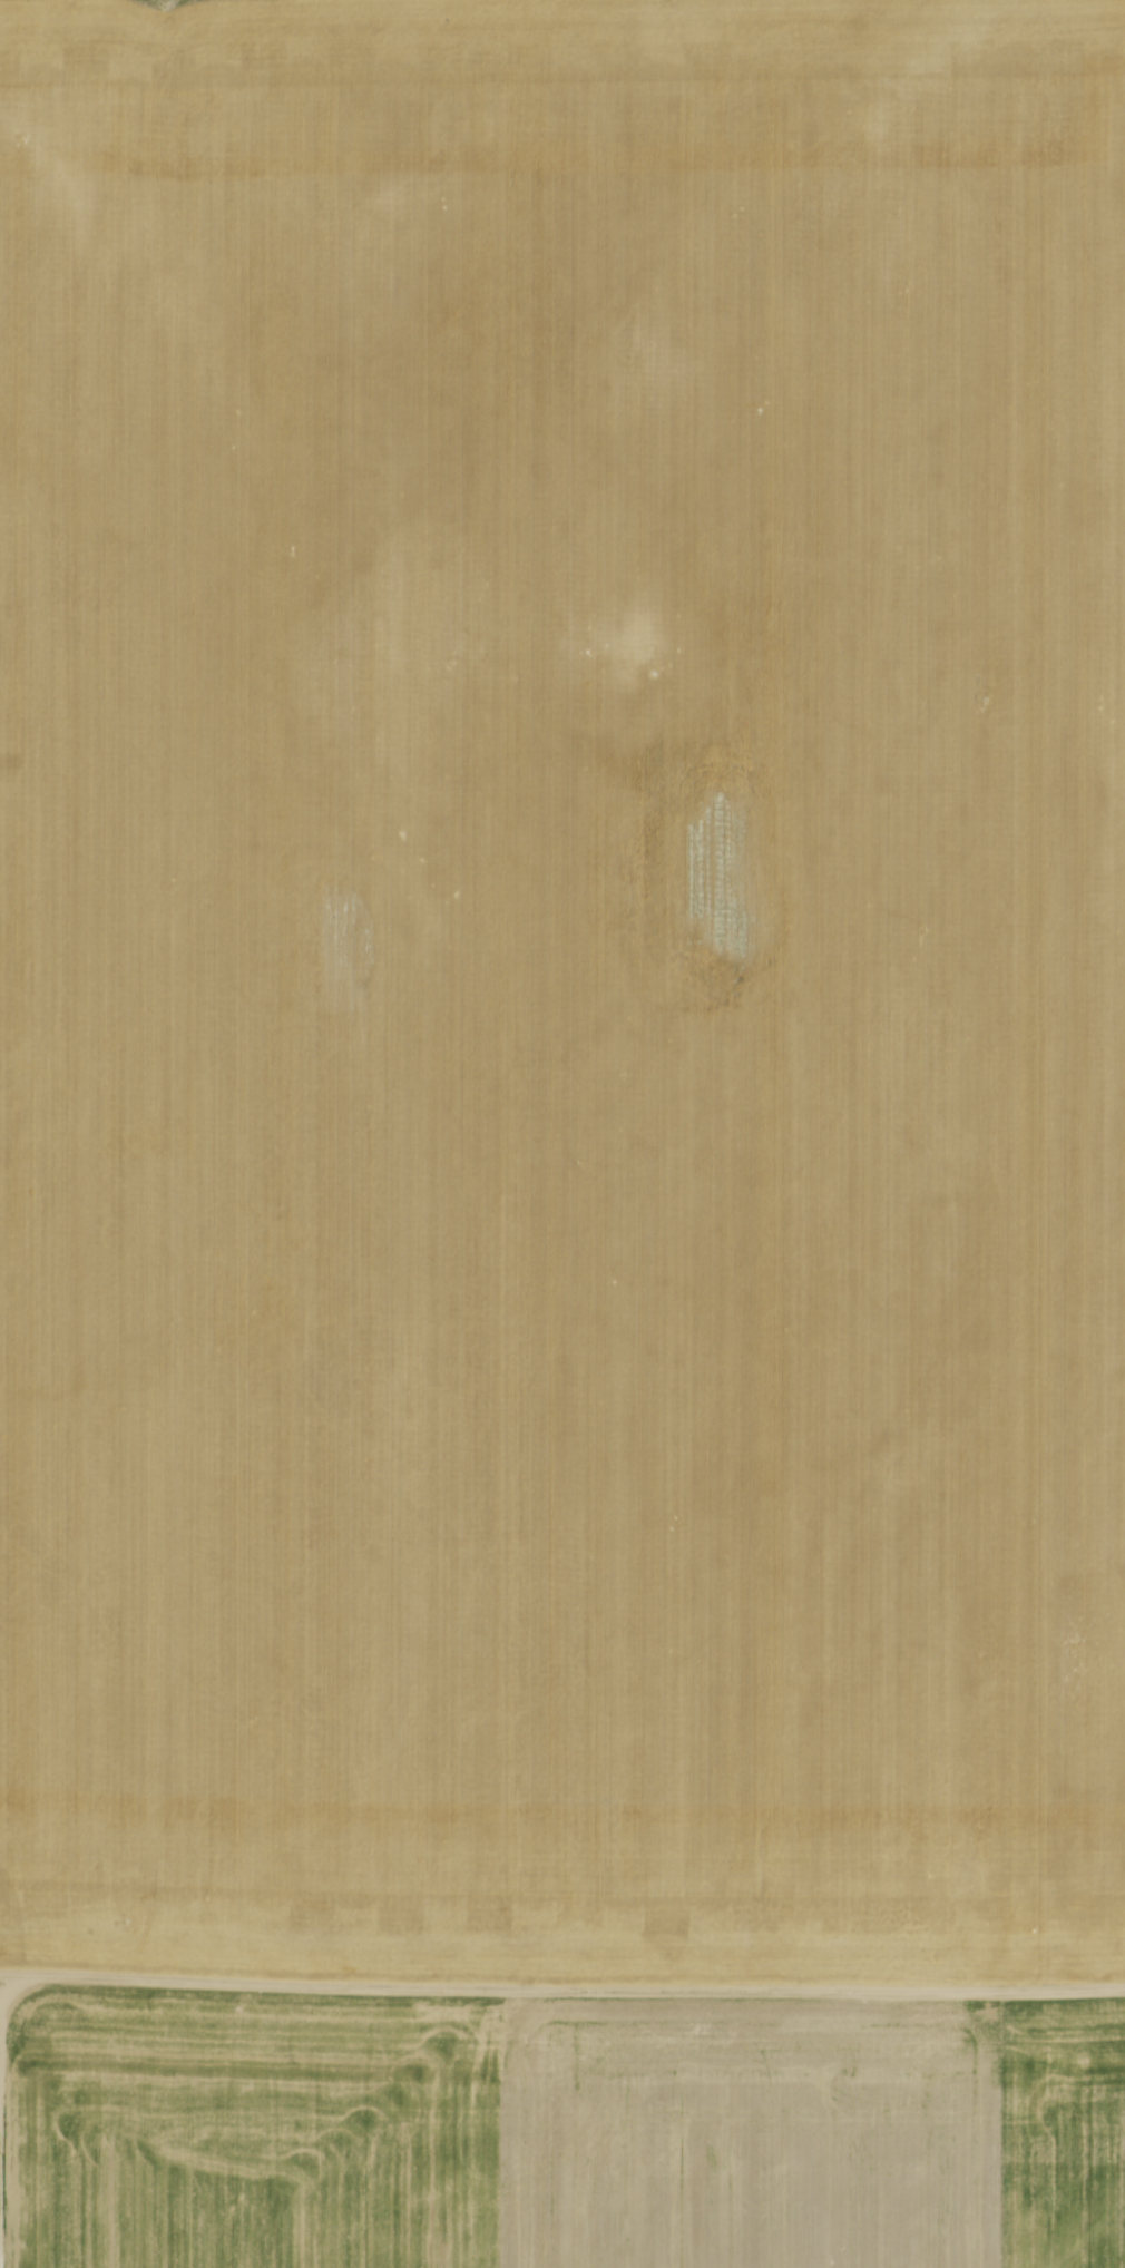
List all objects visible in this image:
road: (561, 1992)

